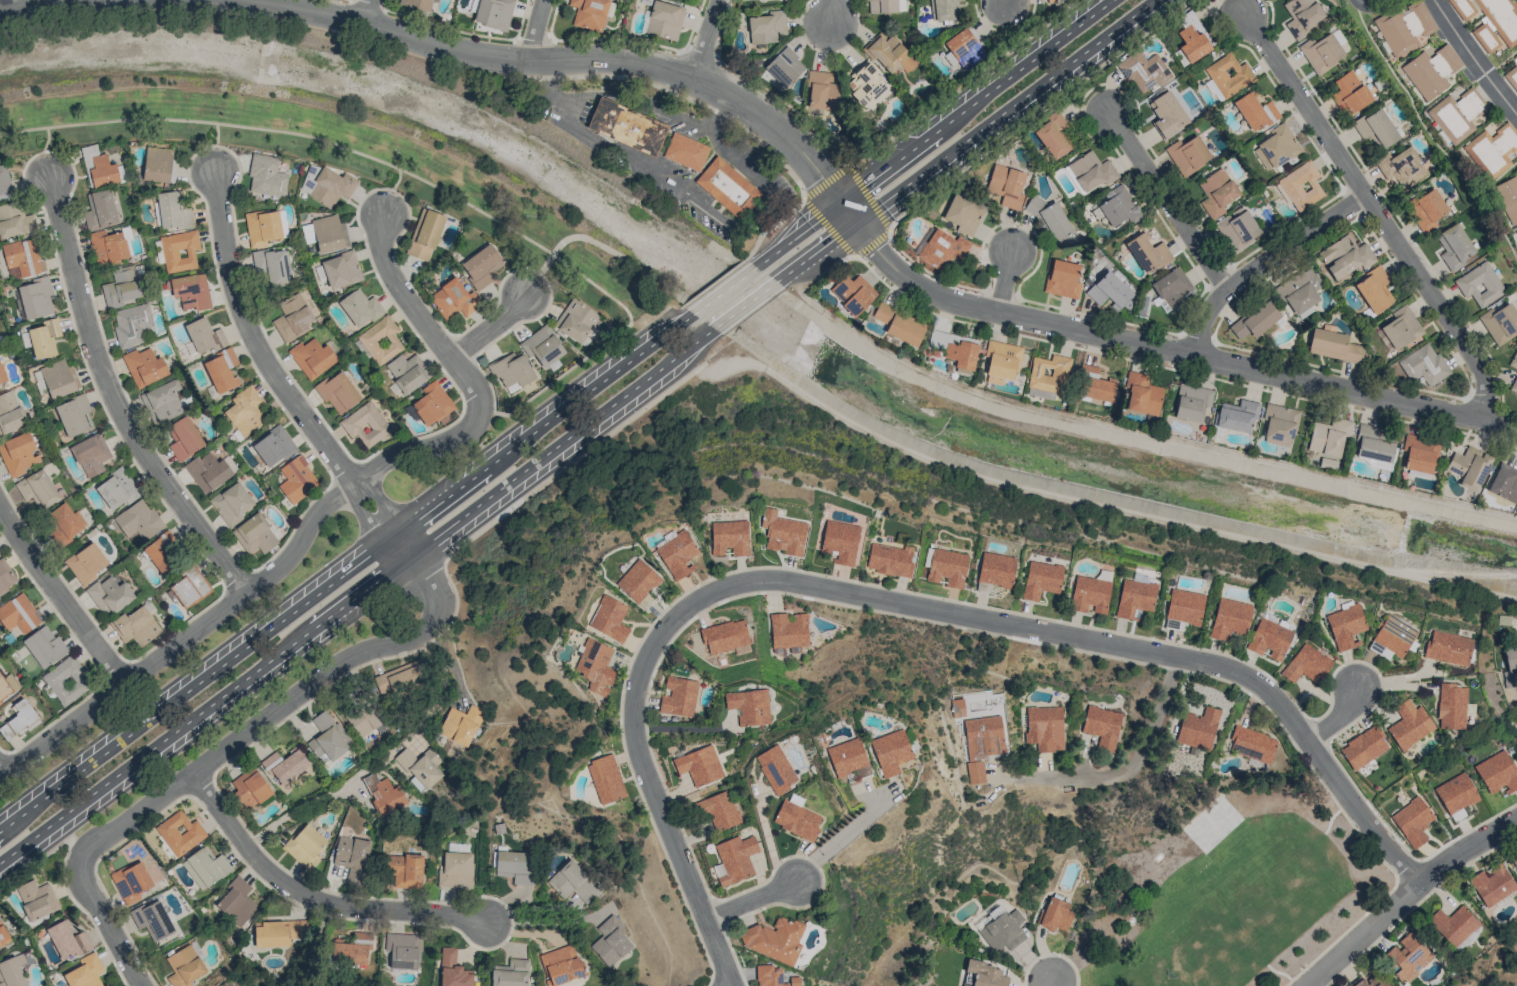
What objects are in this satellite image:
building: (1050, 0)
road: (16, 2)
building: (417, 4)
building: (881, 6)
road: (1373, 6)
building: (1472, 7)
building: (944, 9)
road: (364, 10)
road: (833, 11)
building: (494, 13)
building: (589, 13)
building: (1302, 15)
building: (664, 20)
building: (1499, 25)
building: (766, 27)
building: (1404, 28)
road: (535, 29)
road: (706, 38)
building: (1190, 39)
building: (964, 48)
building: (1321, 52)
building: (890, 53)
building: (1515, 55)
road: (1474, 58)
road: (569, 59)
road: (1501, 62)
building: (785, 66)
building: (1143, 71)
building: (1430, 71)
building: (1228, 75)
building: (1512, 76)
building: (865, 85)
road: (962, 85)
building: (821, 91)
building: (1349, 92)
road: (976, 100)
road: (714, 108)
road: (720, 110)
road: (1008, 111)
building: (1254, 111)
road: (1037, 115)
building: (1168, 115)
building: (1456, 115)
road: (1420, 120)
road: (571, 123)
road: (705, 126)
building: (626, 127)
building: (1376, 128)
building: (1052, 136)
road: (215, 143)
road: (342, 147)
building: (1276, 147)
road: (45, 150)
building: (1492, 150)
building: (685, 152)
building: (1187, 155)
building: (159, 165)
building: (1401, 167)
building: (99, 168)
building: (1091, 171)
building: (266, 176)
road: (825, 181)
building: (4, 183)
building: (1006, 185)
building: (1301, 186)
building: (330, 187)
building: (727, 187)
road: (393, 188)
road: (680, 192)
building: (1216, 192)
road: (870, 196)
road: (1167, 198)
building: (1507, 198)
traffic signals: (842, 202)
building: (1118, 206)
building: (100, 209)
road: (1377, 209)
building: (1426, 209)
building: (172, 210)
road: (850, 212)
building: (963, 214)
building: (1050, 220)
building: (15, 221)
traffic signals: (858, 223)
road: (1499, 225)
building: (262, 227)
road: (828, 227)
building: (1237, 228)
building: (329, 233)
road: (798, 233)
building: (1516, 233)
building: (425, 234)
road: (873, 244)
building: (1454, 246)
building: (108, 247)
building: (943, 250)
building: (179, 251)
road: (611, 251)
building: (1147, 251)
road: (817, 252)
building: (23, 256)
building: (1345, 256)
road: (1263, 261)
road: (837, 264)
building: (271, 266)
building: (481, 266)
building: (341, 270)
road: (540, 273)
building: (1062, 279)
road: (1004, 283)
road: (713, 284)
building: (1479, 284)
building: (122, 286)
building: (1172, 288)
road: (724, 290)
building: (1109, 290)
building: (1300, 290)
building: (1374, 290)
building: (191, 291)
building: (853, 293)
building: (35, 298)
building: (453, 298)
road: (413, 306)
road: (746, 306)
building: (360, 307)
road: (654, 312)
building: (292, 318)
building: (575, 320)
building: (1255, 320)
building: (1500, 322)
building: (131, 324)
building: (899, 324)
road: (491, 326)
building: (1401, 327)
building: (204, 335)
road: (252, 336)
building: (25, 338)
building: (44, 338)
building: (380, 340)
building: (542, 346)
building: (1334, 346)
building: (955, 348)
road: (1159, 349)
building: (312, 357)
building: (1514, 360)
building: (1000, 361)
building: (1425, 364)
building: (144, 367)
building: (221, 370)
building: (512, 371)
building: (407, 372)
building: (1048, 374)
building: (2, 375)
building: (59, 378)
road: (558, 378)
building: (1514, 385)
building: (1097, 386)
building: (337, 392)
building: (1140, 394)
road: (113, 399)
building: (163, 401)
building: (1191, 402)
building: (432, 403)
building: (245, 411)
building: (10, 412)
building: (74, 415)
building: (1237, 416)
building: (365, 424)
building: (1278, 424)
road: (1502, 429)
building: (1328, 437)
building: (185, 438)
building: (273, 446)
building: (1373, 448)
building: (1419, 453)
building: (18, 454)
building: (90, 455)
building: (1468, 467)
building: (208, 471)
building: (297, 479)
building: (1504, 483)
building: (37, 489)
building: (116, 489)
road: (382, 502)
building: (231, 503)
road: (1096, 505)
road: (364, 516)
building: (138, 520)
building: (64, 524)
building: (256, 533)
building: (782, 533)
building: (729, 537)
building: (840, 541)
road: (404, 547)
building: (162, 552)
building: (677, 554)
building: (889, 559)
building: (86, 563)
building: (945, 567)
road: (346, 571)
building: (995, 571)
building: (6, 577)
building: (1041, 579)
building: (638, 583)
building: (188, 588)
road: (254, 588)
building: (1091, 592)
road: (59, 595)
building: (110, 595)
road: (357, 598)
building: (1134, 598)
road: (896, 601)
building: (1183, 609)
building: (19, 613)
road: (455, 614)
building: (609, 618)
building: (1229, 618)
building: (1345, 625)
building: (135, 626)
building: (789, 630)
building: (724, 636)
building: (1391, 638)
building: (1269, 639)
building: (44, 646)
building: (1448, 648)
building: (1306, 665)
building: (1510, 665)
building: (595, 666)
building: (401, 678)
building: (65, 680)
building: (7, 686)
building: (679, 697)
building: (749, 706)
building: (1451, 706)
building: (365, 714)
road: (1337, 716)
building: (18, 720)
building: (461, 724)
building: (1102, 725)
building: (1409, 725)
road: (684, 728)
building: (1044, 728)
building: (1198, 728)
building: (983, 734)
building: (328, 737)
building: (1252, 744)
building: (1363, 747)
road: (223, 750)
building: (890, 752)
building: (848, 760)
road: (1134, 764)
building: (284, 765)
building: (699, 765)
building: (419, 767)
building: (776, 769)
road: (0, 772)
building: (975, 772)
building: (1497, 772)
building: (605, 779)
road: (200, 785)
building: (249, 789)
building: (384, 795)
building: (1456, 796)
building: (720, 811)
building: (797, 818)
building: (1412, 822)
building: (180, 833)
road: (840, 841)
road: (769, 844)
building: (305, 845)
building: (352, 858)
building: (735, 858)
building: (1515, 863)
building: (515, 866)
building: (205, 867)
building: (455, 870)
building: (406, 871)
building: (131, 881)
park: (1217, 881)
building: (574, 882)
building: (1493, 886)
road: (1404, 894)
road: (312, 897)
building: (36, 899)
road: (752, 900)
building: (236, 902)
building: (1055, 915)
building: (153, 920)
road: (545, 923)
building: (1456, 926)
building: (1003, 931)
building: (279, 932)
building: (3, 936)
building: (774, 940)
building: (66, 941)
building: (610, 942)
building: (352, 950)
building: (402, 950)
building: (1407, 956)
building: (185, 965)
building: (561, 965)
building: (453, 970)
building: (12, 971)
building: (85, 972)
building: (510, 973)
building: (986, 974)
building: (773, 977)
building: (1366, 981)
road: (1057, 983)

